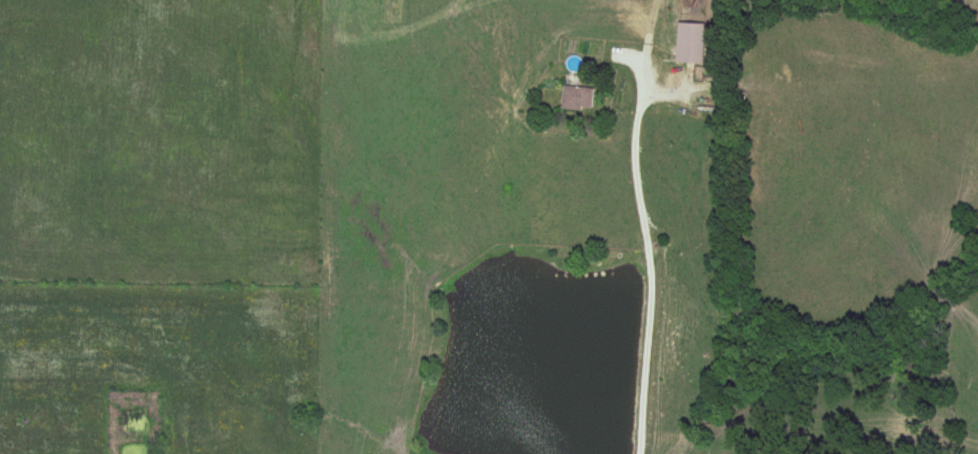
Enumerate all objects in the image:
building: (690, 43)
building: (577, 98)
road: (648, 255)

